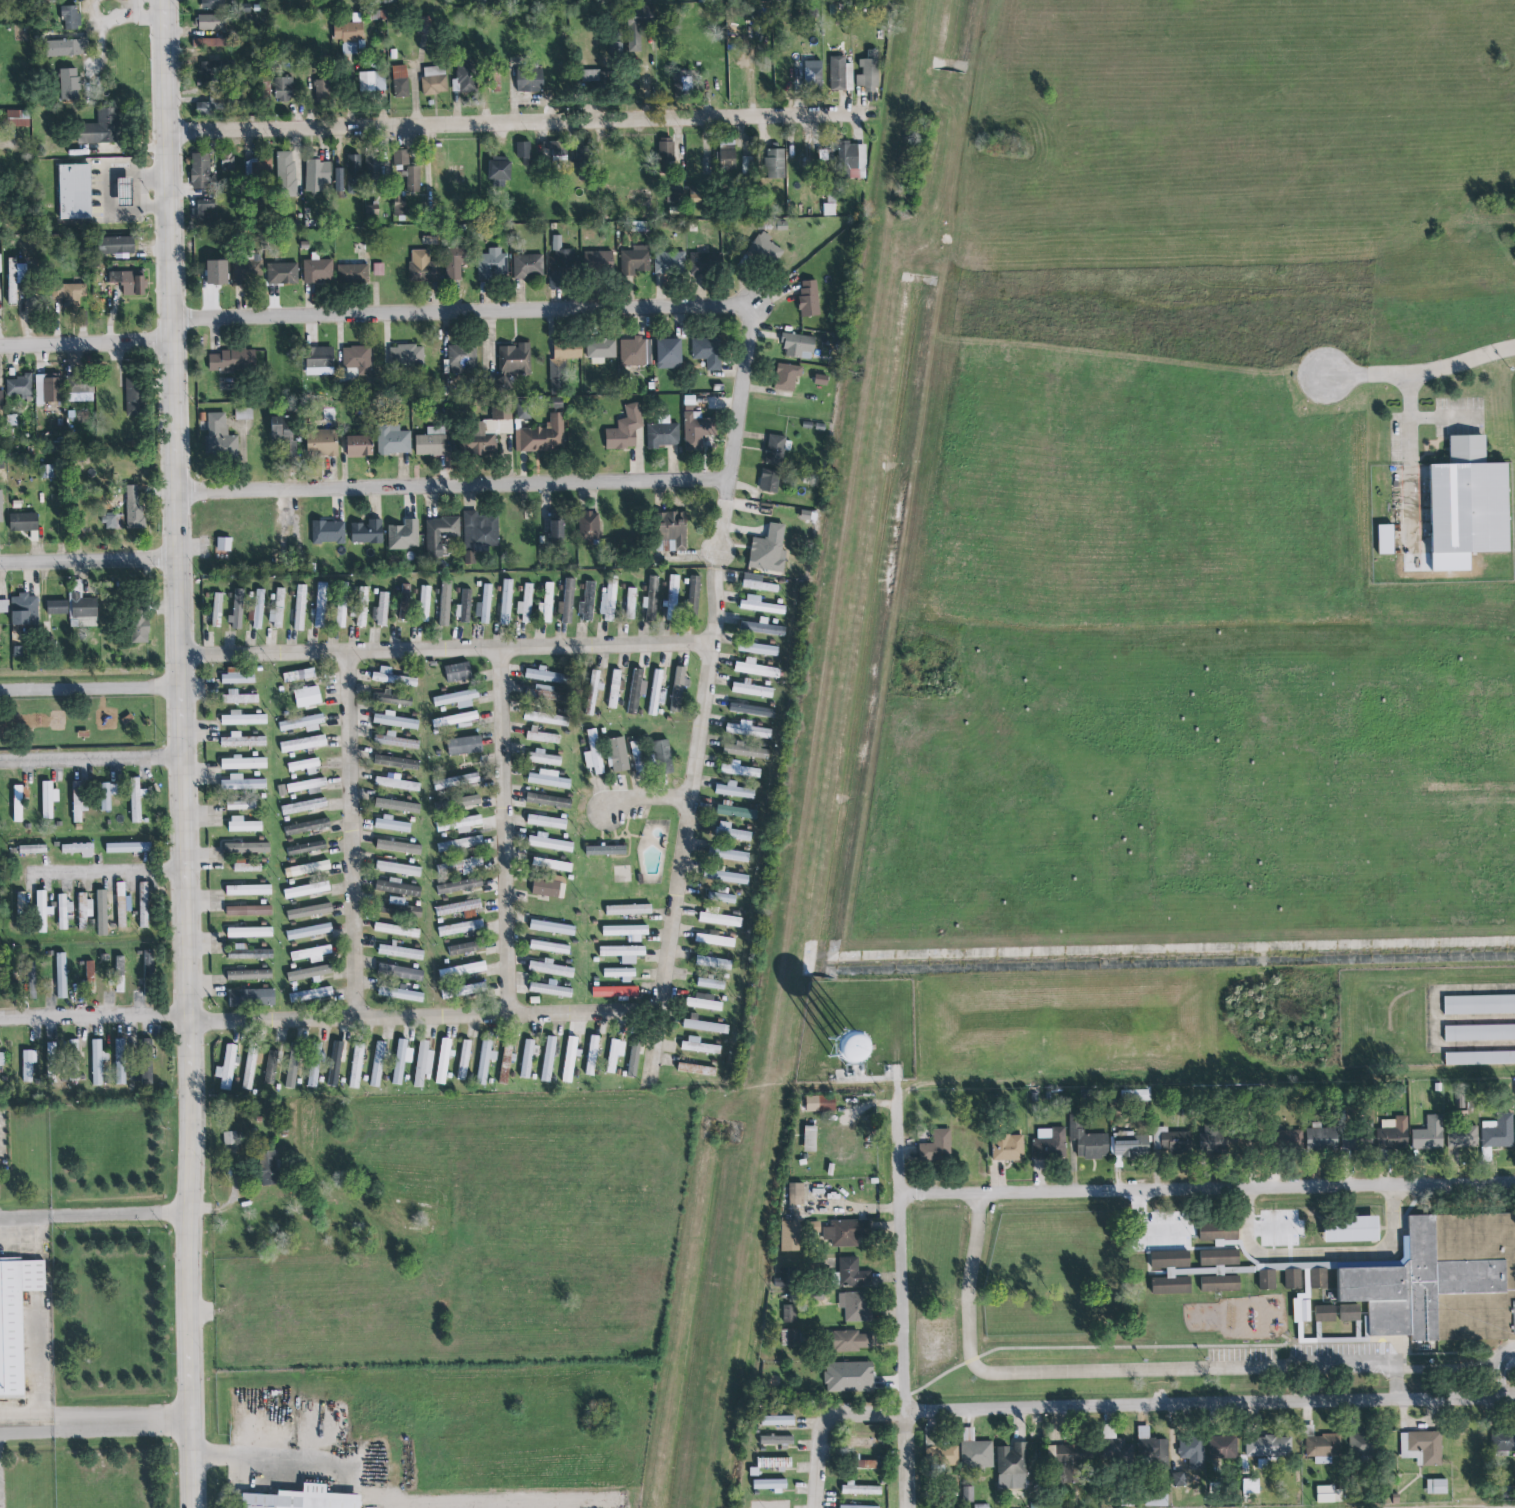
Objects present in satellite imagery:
building: (213, 4)
building: (70, 17)
road: (143, 18)
road: (108, 20)
building: (206, 21)
building: (638, 25)
building: (349, 34)
building: (209, 42)
building: (67, 46)
building: (812, 72)
building: (835, 72)
building: (869, 72)
building: (210, 73)
building: (465, 78)
building: (596, 79)
building: (434, 80)
building: (530, 80)
building: (400, 81)
building: (372, 82)
building: (67, 83)
building: (681, 83)
building: (281, 88)
building: (321, 91)
building: (204, 109)
building: (18, 118)
road: (519, 126)
building: (101, 128)
building: (555, 148)
building: (523, 152)
building: (581, 153)
building: (726, 156)
building: (666, 157)
building: (400, 158)
building: (852, 159)
building: (228, 162)
building: (775, 164)
building: (372, 167)
building: (255, 169)
building: (498, 169)
building: (201, 172)
building: (314, 172)
building: (285, 174)
building: (353, 174)
building: (413, 179)
road: (107, 191)
building: (75, 192)
building: (125, 192)
gas station: (125, 192)
road: (141, 193)
building: (695, 196)
building: (399, 206)
building: (829, 210)
building: (205, 212)
building: (116, 246)
building: (765, 249)
building: (454, 261)
building: (598, 261)
building: (635, 261)
building: (489, 263)
building: (669, 263)
building: (561, 264)
building: (704, 264)
building: (528, 266)
building: (423, 267)
building: (377, 270)
building: (244, 271)
building: (317, 271)
building: (217, 273)
building: (282, 274)
building: (352, 274)
building: (15, 279)
building: (130, 283)
building: (68, 293)
building: (808, 299)
road: (459, 314)
road: (86, 345)
building: (796, 345)
building: (598, 350)
building: (632, 352)
building: (707, 352)
building: (669, 354)
building: (406, 356)
building: (320, 358)
building: (230, 359)
building: (358, 359)
building: (459, 361)
building: (510, 364)
building: (561, 368)
road: (1419, 373)
building: (786, 377)
building: (76, 385)
building: (18, 387)
building: (51, 392)
road: (738, 394)
building: (134, 398)
building: (1, 401)
building: (243, 414)
road: (1448, 417)
building: (625, 430)
building: (695, 430)
building: (484, 433)
building: (283, 435)
building: (662, 435)
building: (219, 436)
building: (542, 436)
building: (390, 440)
building: (322, 442)
building: (431, 443)
building: (360, 447)
building: (775, 450)
road: (1411, 461)
building: (769, 480)
road: (452, 488)
building: (1471, 499)
building: (132, 507)
building: (1, 508)
building: (23, 521)
building: (109, 521)
building: (589, 526)
building: (557, 530)
building: (366, 531)
building: (327, 532)
building: (478, 533)
building: (440, 534)
building: (403, 536)
building: (1386, 539)
building: (223, 545)
building: (767, 548)
road: (88, 561)
road: (720, 561)
building: (757, 583)
building: (693, 591)
building: (610, 597)
building: (651, 597)
building: (671, 597)
building: (404, 601)
building: (505, 601)
building: (547, 602)
building: (566, 602)
building: (587, 602)
building: (424, 603)
building: (630, 603)
building: (444, 604)
building: (483, 604)
building: (525, 604)
building: (320, 605)
building: (760, 605)
building: (4, 606)
building: (216, 606)
building: (361, 606)
building: (57, 607)
building: (299, 607)
building: (463, 607)
building: (23, 608)
building: (258, 608)
building: (236, 609)
building: (277, 609)
building: (82, 610)
building: (381, 610)
building: (341, 611)
building: (139, 626)
building: (761, 627)
building: (757, 648)
road: (445, 649)
building: (756, 668)
building: (457, 671)
building: (298, 675)
building: (546, 675)
building: (237, 677)
building: (392, 677)
building: (678, 687)
road: (90, 688)
building: (750, 688)
building: (614, 689)
building: (635, 690)
building: (656, 691)
building: (549, 692)
building: (592, 693)
building: (237, 696)
building: (307, 696)
building: (456, 698)
park: (83, 709)
building: (751, 710)
building: (545, 717)
building: (242, 718)
building: (393, 719)
building: (455, 719)
building: (300, 722)
building: (747, 730)
building: (541, 736)
building: (242, 740)
building: (395, 741)
building: (302, 743)
building: (464, 744)
building: (746, 751)
building: (593, 752)
road: (180, 753)
building: (616, 753)
building: (637, 756)
building: (662, 756)
building: (544, 757)
road: (90, 760)
building: (243, 762)
building: (395, 762)
building: (304, 766)
building: (739, 769)
building: (548, 779)
building: (454, 780)
building: (241, 783)
building: (395, 783)
building: (301, 785)
building: (734, 790)
building: (107, 795)
road: (647, 798)
building: (48, 799)
building: (135, 799)
building: (79, 800)
building: (548, 800)
building: (17, 803)
building: (240, 805)
building: (397, 805)
building: (303, 806)
building: (735, 811)
building: (546, 822)
building: (457, 823)
building: (243, 824)
building: (391, 824)
building: (307, 826)
road: (505, 831)
building: (731, 832)
road: (352, 834)
building: (548, 843)
building: (459, 844)
building: (126, 847)
building: (246, 847)
building: (306, 847)
building: (398, 847)
building: (32, 849)
building: (78, 849)
building: (606, 850)
building: (734, 855)
road: (682, 858)
building: (552, 865)
building: (459, 866)
building: (307, 868)
building: (397, 869)
road: (107, 870)
building: (724, 876)
building: (460, 886)
building: (546, 886)
building: (396, 887)
building: (247, 889)
building: (306, 889)
building: (721, 897)
building: (20, 900)
building: (122, 904)
building: (143, 904)
building: (84, 906)
building: (457, 907)
building: (628, 909)
building: (63, 910)
building: (247, 910)
building: (42, 911)
building: (308, 911)
building: (102, 912)
building: (719, 919)
building: (459, 927)
building: (552, 927)
building: (396, 930)
building: (308, 931)
building: (626, 931)
building: (249, 932)
building: (714, 939)
building: (466, 947)
building: (549, 947)
building: (400, 952)
building: (622, 952)
building: (248, 953)
building: (310, 954)
building: (713, 962)
building: (119, 964)
building: (551, 968)
building: (89, 970)
building: (148, 970)
building: (462, 970)
building: (400, 972)
building: (618, 972)
building: (308, 973)
building: (61, 975)
building: (248, 975)
building: (28, 978)
building: (710, 984)
building: (550, 989)
building: (464, 990)
building: (615, 991)
building: (399, 993)
building: (310, 994)
building: (251, 997)
building: (704, 1002)
building: (1479, 1005)
road: (93, 1015)
road: (423, 1015)
building: (705, 1026)
building: (1479, 1033)
building: (698, 1046)
building: (868, 1046)
building: (614, 1054)
building: (592, 1055)
building: (634, 1056)
building: (569, 1058)
building: (1479, 1058)
building: (2, 1059)
building: (400, 1059)
building: (526, 1059)
building: (548, 1059)
building: (463, 1060)
building: (484, 1060)
building: (97, 1061)
building: (120, 1061)
building: (442, 1061)
building: (335, 1063)
building: (506, 1063)
building: (28, 1064)
building: (377, 1064)
building: (422, 1064)
building: (292, 1065)
building: (356, 1065)
building: (227, 1067)
building: (270, 1067)
building: (696, 1069)
building: (249, 1071)
building: (146, 1076)
building: (820, 1103)
building: (1498, 1132)
building: (1392, 1134)
building: (1429, 1134)
building: (1462, 1137)
building: (229, 1138)
building: (1212, 1138)
building: (1322, 1138)
building: (809, 1139)
building: (1289, 1139)
building: (1356, 1139)
building: (1087, 1140)
building: (1172, 1141)
building: (1047, 1143)
building: (1129, 1145)
building: (1005, 1146)
building: (936, 1147)
building: (269, 1168)
road: (1207, 1188)
building: (796, 1194)
road: (95, 1215)
road: (1139, 1228)
building: (1352, 1229)
building: (1219, 1231)
building: (844, 1232)
building: (790, 1236)
building: (1226, 1243)
road: (1320, 1253)
building: (1220, 1258)
building: (1214, 1271)
building: (1171, 1272)
building: (852, 1273)
building: (785, 1278)
building: (1318, 1278)
building: (1267, 1279)
building: (1293, 1279)
building: (1442, 1281)
building: (1220, 1283)
road: (902, 1294)
building: (1302, 1305)
building: (857, 1306)
building: (790, 1309)
building: (1325, 1313)
building: (1350, 1313)
building: (15, 1319)
building: (790, 1337)
building: (842, 1341)
road: (1152, 1348)
parking lot: (1343, 1351)
parking lot: (1243, 1357)
road: (1497, 1368)
road: (1115, 1370)
building: (849, 1377)
road: (1210, 1402)
road: (40, 1414)
building: (778, 1420)
road: (96, 1421)
road: (824, 1423)
building: (777, 1441)
building: (1502, 1441)
building: (864, 1442)
building: (1150, 1444)
building: (1362, 1444)
building: (1222, 1447)
building: (1321, 1447)
building: (1422, 1447)
building: (1268, 1449)
building: (975, 1454)
building: (948, 1455)
road: (268, 1459)
building: (1012, 1461)
building: (1065, 1461)
building: (774, 1463)
building: (866, 1464)
building: (753, 1471)
building: (769, 1485)
building: (1436, 1486)
building: (861, 1490)
building: (967, 1494)
building: (1330, 1494)
building: (300, 1499)
building: (770, 1505)
building: (856, 1507)

